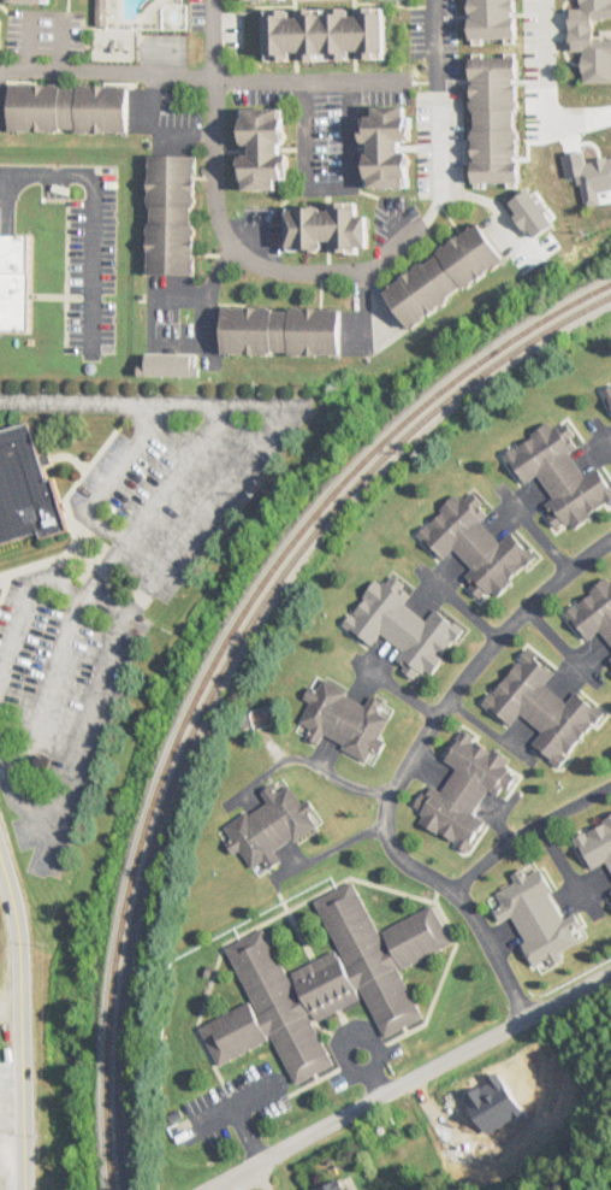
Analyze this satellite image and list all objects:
building: (0, 33)
building: (326, 35)
road: (433, 45)
building: (494, 67)
road: (202, 76)
building: (71, 108)
building: (390, 147)
building: (266, 149)
road: (438, 157)
road: (87, 212)
building: (173, 216)
building: (330, 229)
road: (225, 230)
parking lot: (83, 251)
building: (445, 276)
building: (14, 281)
road: (45, 294)
building: (283, 331)
building: (607, 393)
building: (560, 476)
building: (26, 490)
building: (477, 547)
building: (593, 613)
building: (403, 628)
railway: (215, 655)
railway: (223, 662)
building: (609, 664)
building: (544, 707)
building: (345, 720)
road: (408, 768)
building: (464, 791)
building: (272, 827)
road: (528, 832)
building: (597, 844)
building: (610, 892)
building: (538, 915)
building: (325, 983)
road: (24, 1021)
road: (404, 1079)
road: (255, 1166)
road: (236, 1176)
road: (262, 1180)
road: (241, 1185)
building: (339, 1185)

